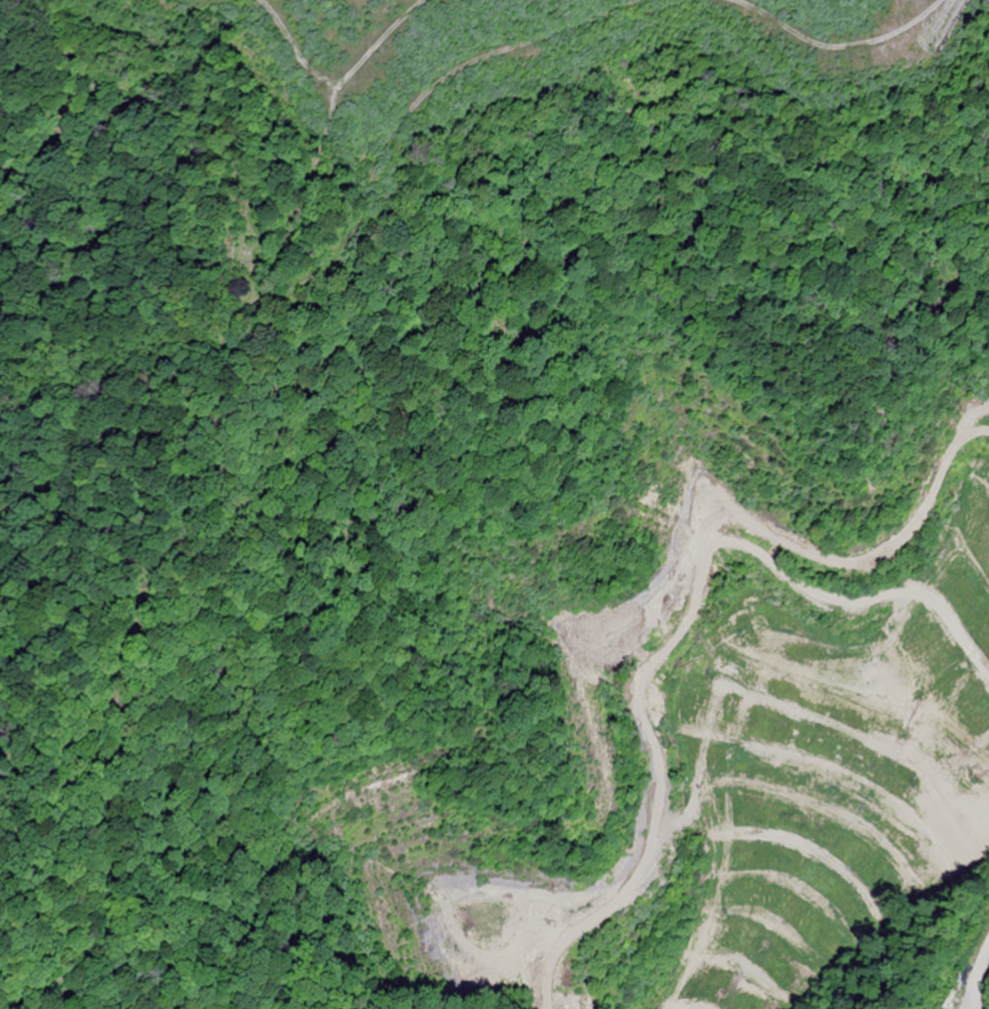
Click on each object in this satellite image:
building: (250, 253)

